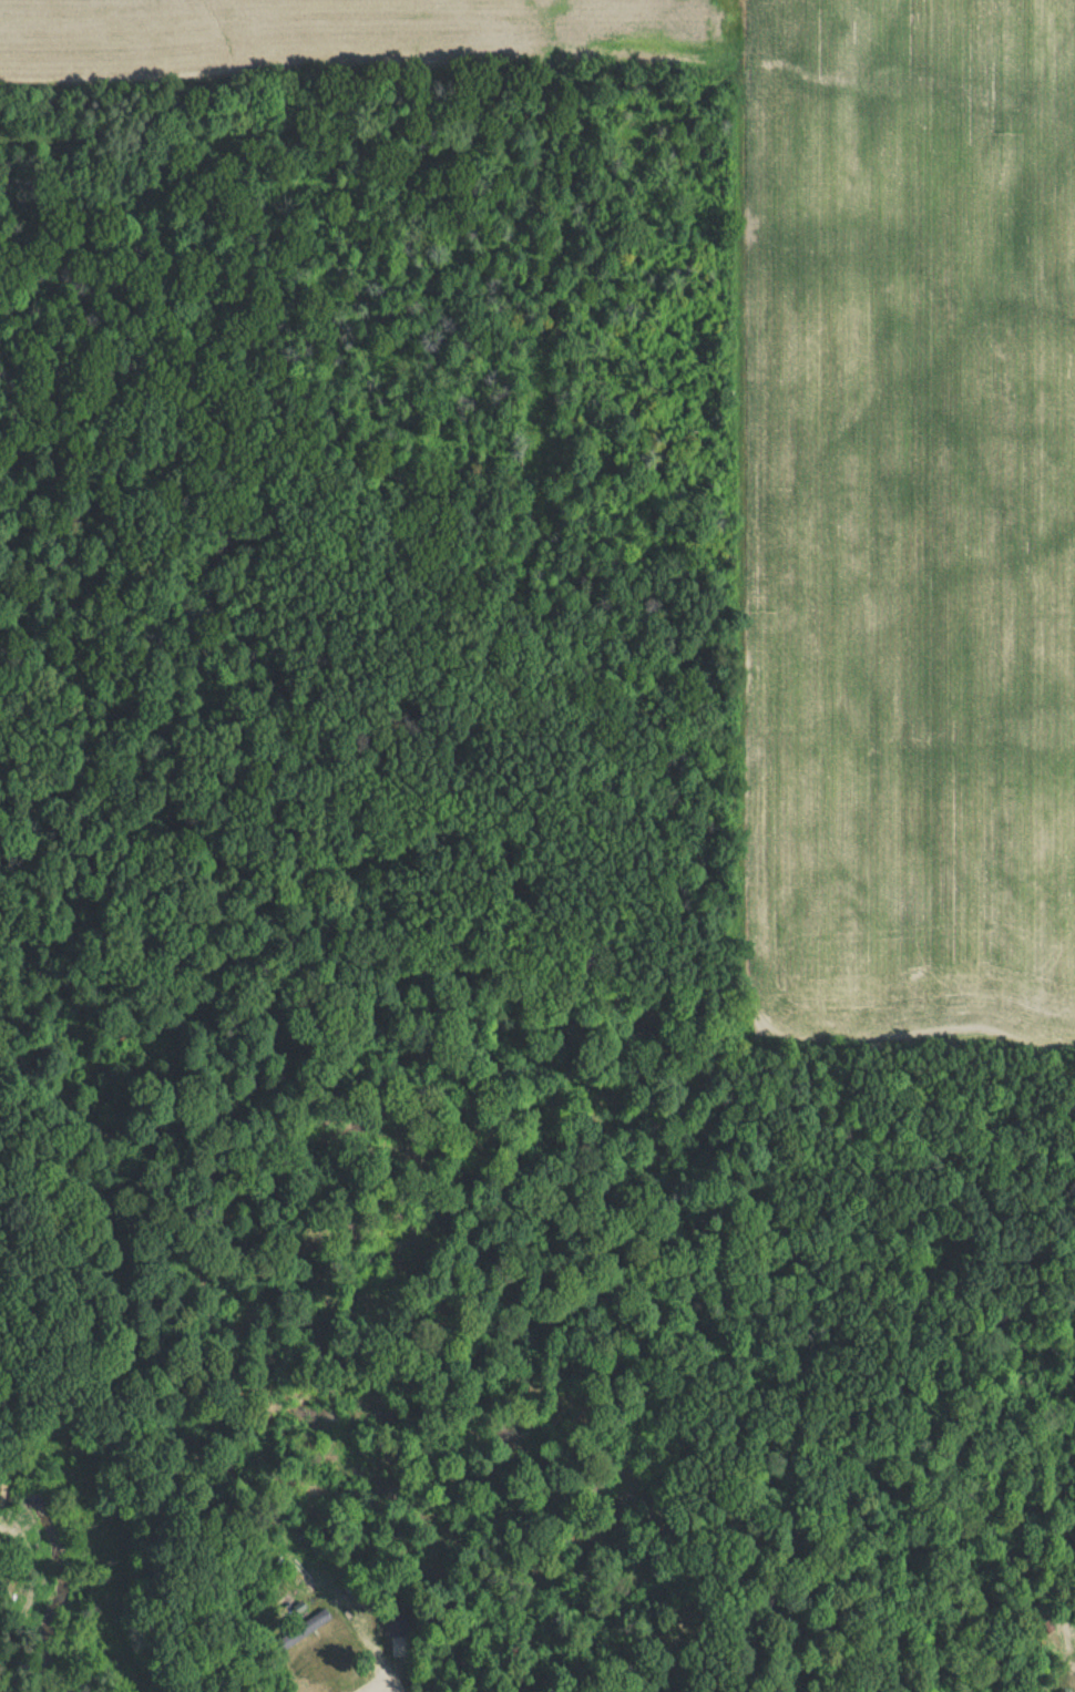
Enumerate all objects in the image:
building: (396, 1629)
building: (301, 1633)
road: (392, 1682)

